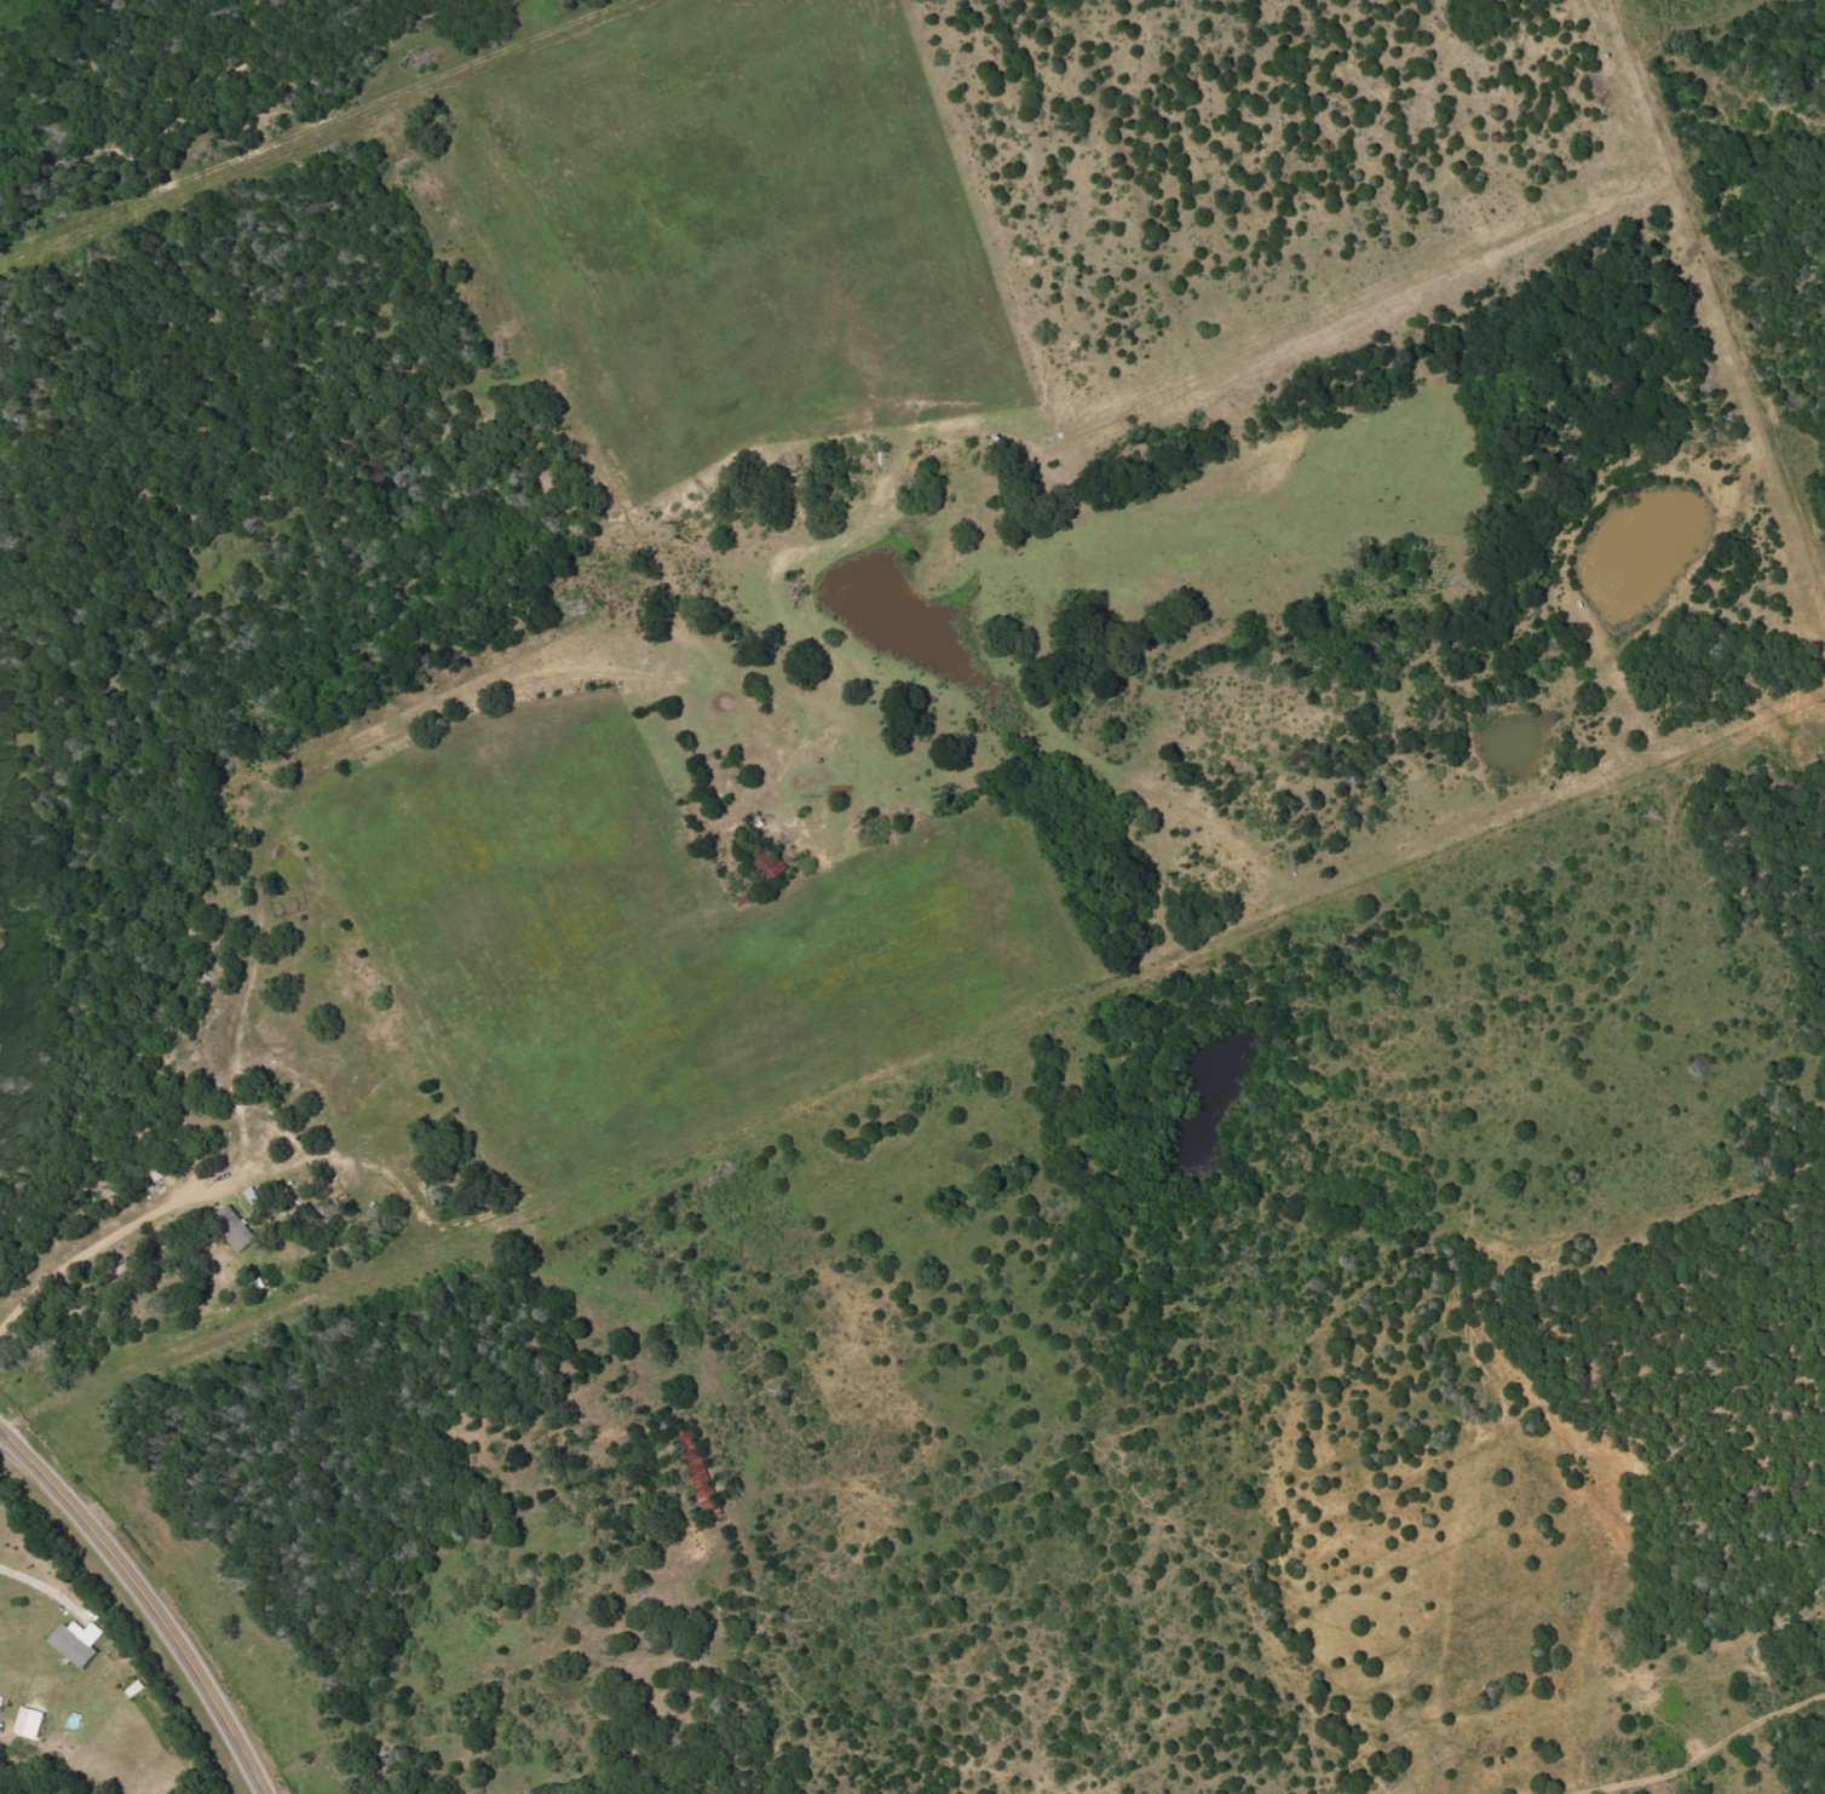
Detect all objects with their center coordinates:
building: (238, 1232)
road: (84, 1249)
road: (41, 1586)
road: (145, 1604)
building: (80, 1641)
building: (33, 1723)

